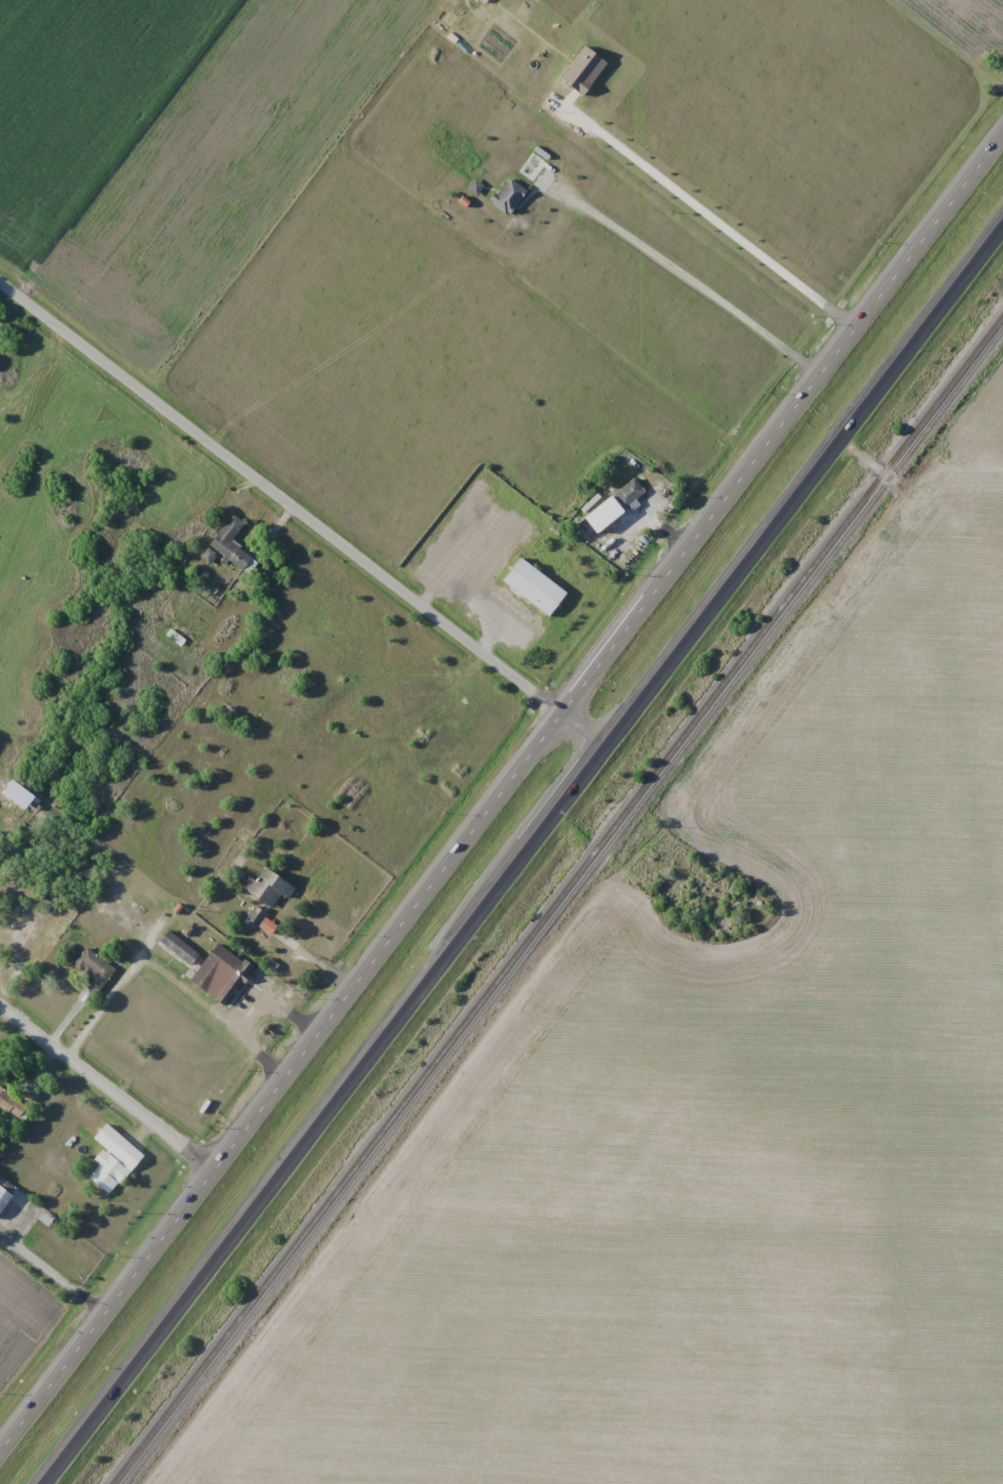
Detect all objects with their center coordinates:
building: (510, 197)
building: (616, 507)
road: (301, 516)
building: (232, 544)
road: (502, 796)
road: (524, 854)
building: (268, 885)
railway: (556, 898)
railway: (561, 905)
building: (257, 916)
building: (23, 931)
building: (179, 947)
building: (93, 969)
building: (222, 973)
road: (108, 1088)
building: (109, 1159)
building: (12, 1196)

